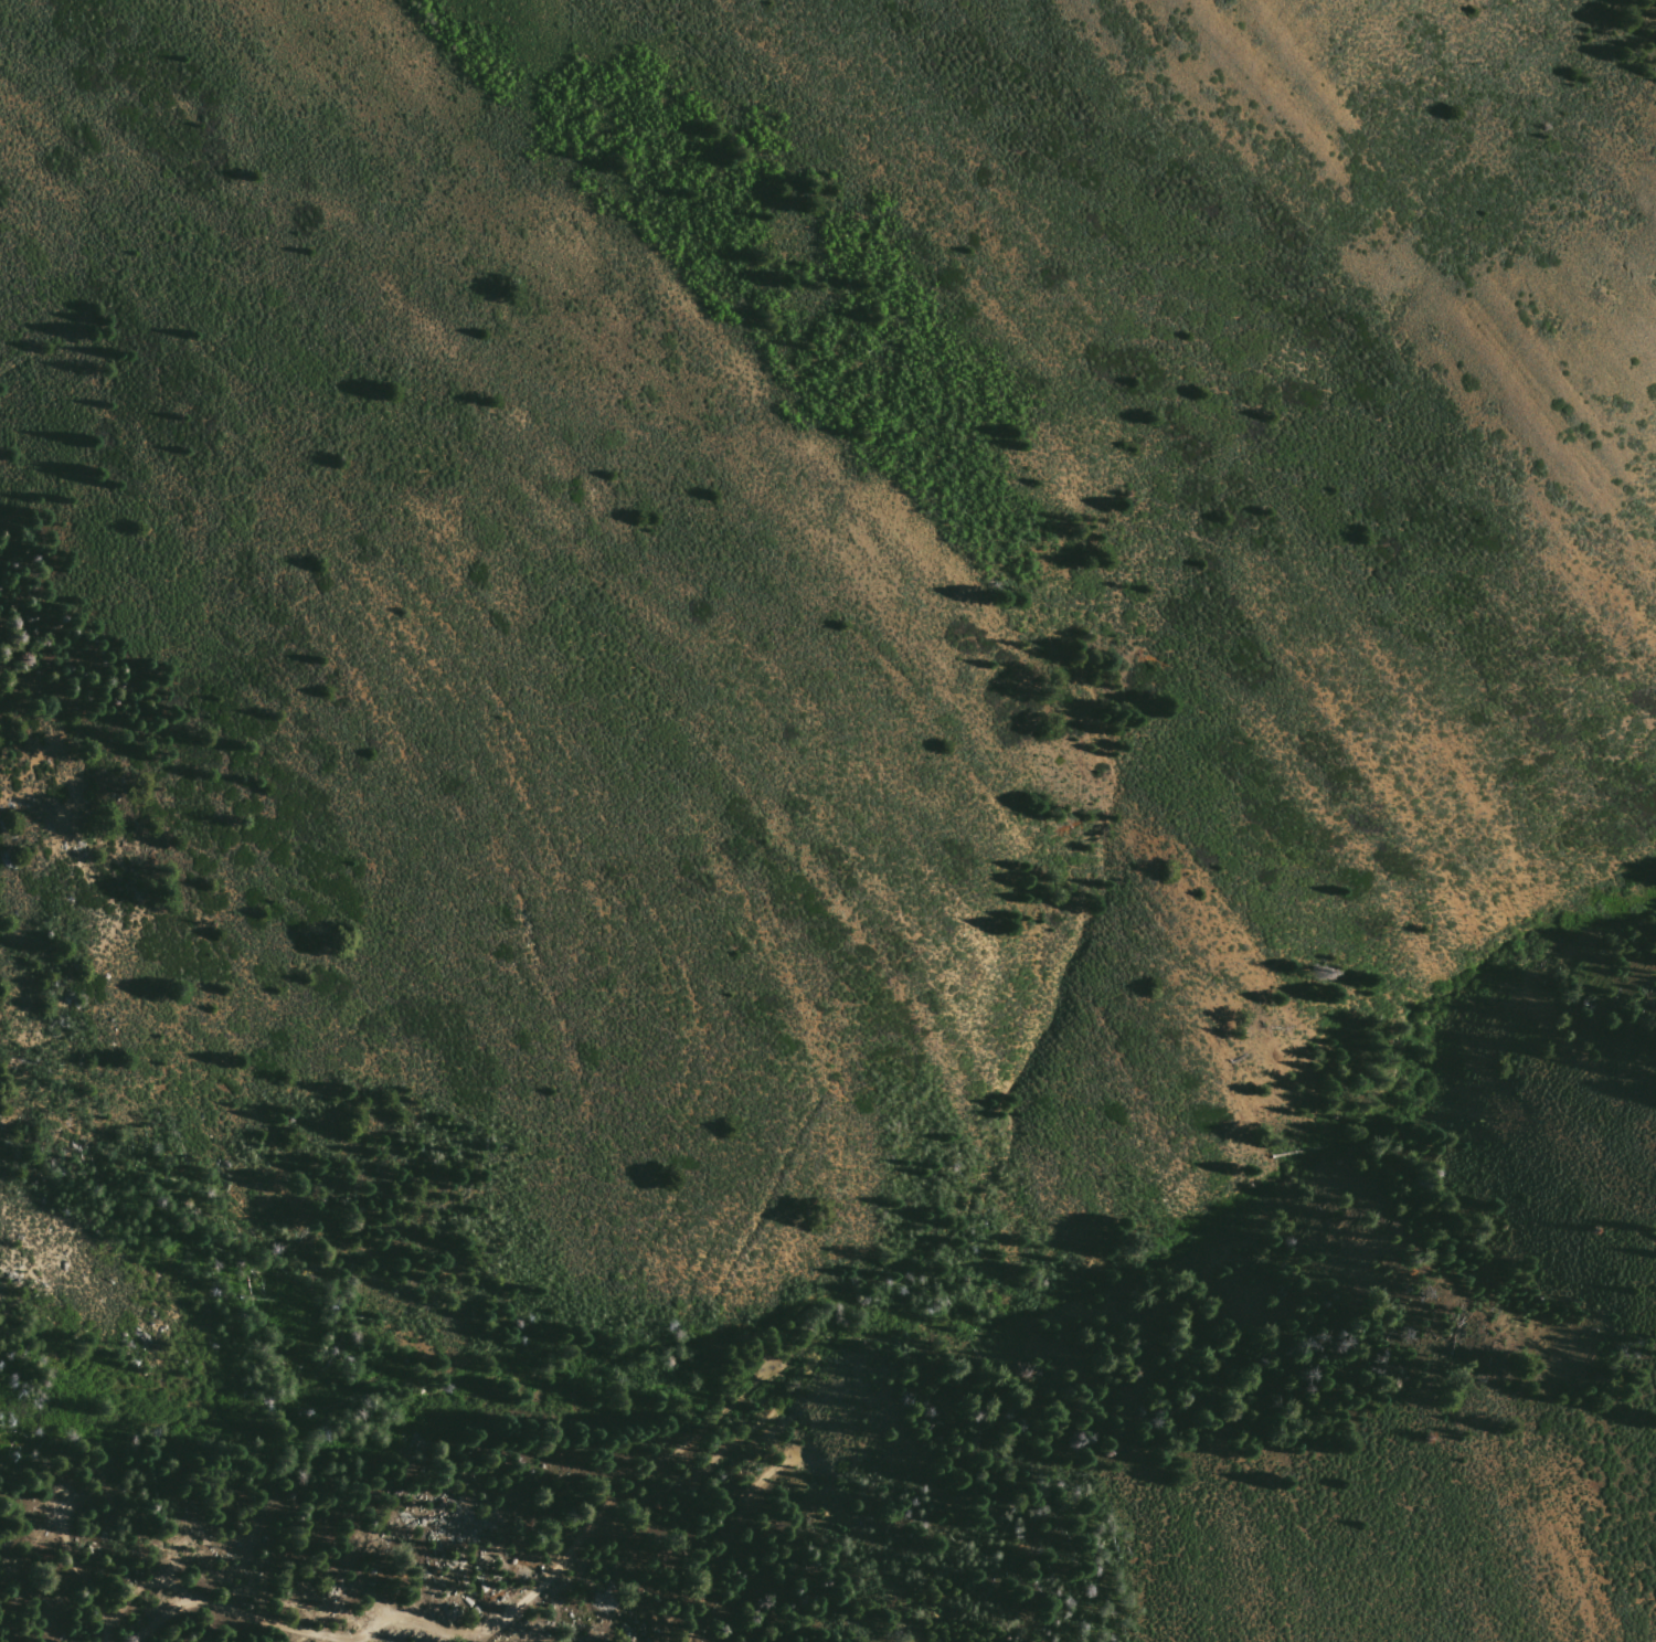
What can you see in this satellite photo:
road: (604, 1505)
road: (289, 1627)

